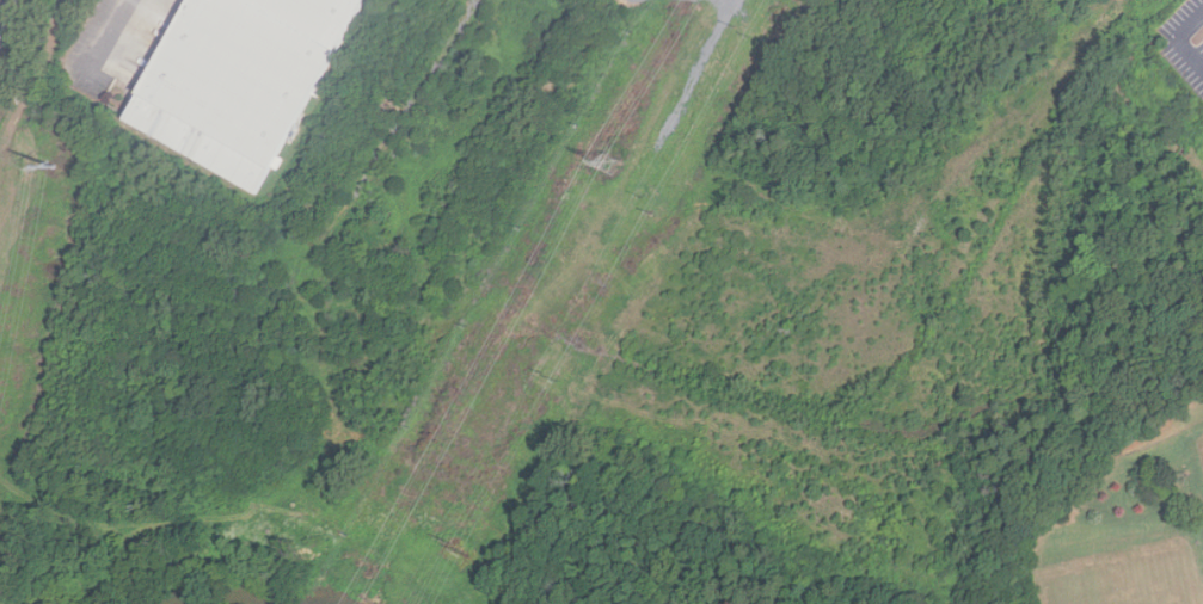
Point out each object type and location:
road: (2, 8)
road: (121, 31)
road: (1172, 39)
building: (241, 80)
power tower: (606, 165)
park: (702, 506)
park: (1135, 587)
river: (262, 597)

